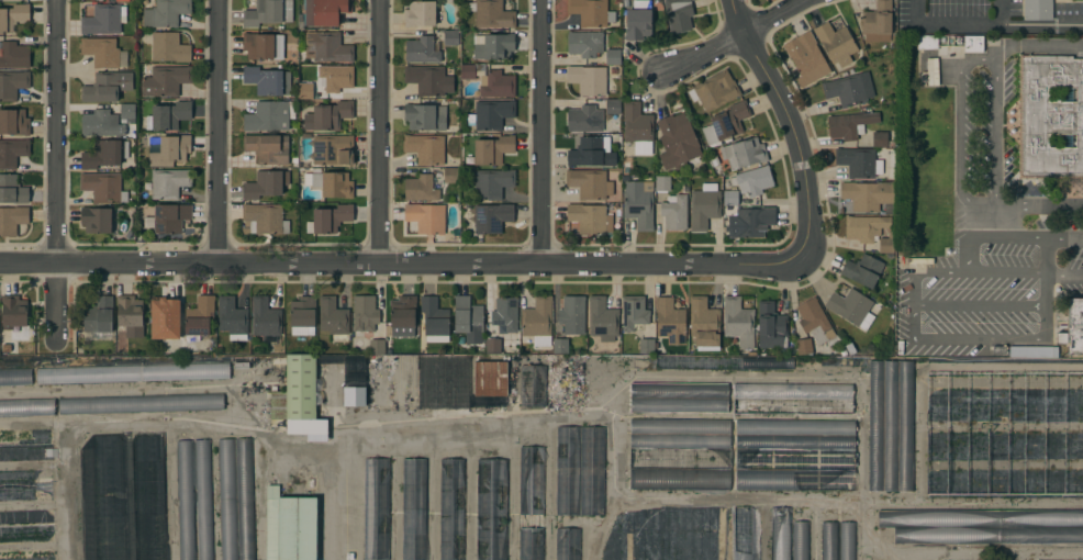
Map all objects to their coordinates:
building: (1037, 9)
building: (325, 11)
building: (166, 12)
building: (268, 12)
building: (591, 12)
building: (420, 13)
building: (491, 13)
road: (1000, 13)
building: (678, 14)
building: (13, 15)
road: (735, 15)
building: (104, 19)
building: (638, 19)
building: (878, 22)
road: (945, 25)
road: (1041, 27)
road: (732, 35)
building: (450, 36)
building: (927, 41)
building: (584, 43)
building: (836, 43)
building: (972, 43)
building: (263, 45)
road: (1039, 45)
building: (327, 46)
building: (495, 46)
building: (169, 47)
building: (423, 49)
building: (103, 52)
building: (14, 54)
building: (613, 56)
building: (808, 59)
building: (467, 70)
building: (927, 71)
building: (336, 77)
building: (267, 79)
building: (428, 79)
building: (588, 79)
building: (165, 80)
building: (12, 83)
building: (496, 83)
building: (107, 86)
building: (849, 88)
building: (305, 90)
building: (714, 90)
building: (613, 105)
building: (127, 112)
building: (491, 114)
building: (168, 115)
building: (269, 115)
building: (328, 115)
building: (1049, 115)
building: (425, 116)
building: (584, 119)
building: (14, 122)
building: (726, 122)
building: (102, 123)
building: (850, 124)
building: (637, 127)
road: (959, 130)
road: (995, 130)
road: (220, 131)
road: (381, 132)
road: (543, 132)
road: (793, 136)
building: (879, 138)
building: (678, 142)
building: (267, 148)
building: (425, 148)
building: (168, 149)
building: (333, 149)
building: (492, 149)
building: (12, 152)
building: (592, 152)
building: (744, 152)
building: (104, 153)
building: (859, 161)
road: (58, 172)
building: (450, 175)
building: (753, 180)
building: (169, 182)
building: (492, 182)
building: (662, 182)
building: (266, 183)
building: (331, 183)
building: (589, 183)
building: (103, 187)
building: (420, 188)
building: (12, 189)
building: (867, 193)
building: (730, 197)
building: (638, 204)
building: (704, 205)
road: (1038, 206)
building: (674, 211)
building: (169, 217)
building: (331, 217)
building: (426, 217)
building: (492, 217)
building: (590, 217)
building: (265, 219)
building: (12, 220)
building: (96, 220)
building: (751, 221)
building: (864, 226)
road: (1018, 239)
building: (886, 243)
road: (399, 264)
building: (862, 270)
road: (1006, 270)
road: (931, 273)
road: (1065, 275)
road: (1048, 290)
road: (981, 306)
building: (851, 307)
building: (403, 313)
building: (505, 313)
building: (634, 313)
building: (572, 314)
building: (14, 315)
building: (99, 315)
building: (130, 315)
building: (302, 315)
building: (333, 316)
building: (365, 316)
building: (165, 317)
building: (199, 317)
building: (232, 317)
building: (265, 317)
building: (468, 317)
building: (602, 318)
building: (435, 320)
building: (670, 320)
building: (737, 321)
building: (814, 321)
building: (537, 322)
building: (704, 323)
building: (770, 325)
building: (1073, 327)
road: (981, 337)
building: (461, 340)
building: (493, 345)
building: (560, 345)
building: (377, 346)
building: (646, 346)
building: (804, 346)
building: (1032, 351)
building: (355, 370)
building: (132, 372)
building: (15, 376)
building: (490, 378)
building: (533, 384)
building: (679, 390)
building: (793, 390)
building: (354, 395)
building: (299, 397)
building: (139, 403)
building: (679, 404)
building: (792, 405)
building: (27, 406)
building: (905, 424)
building: (680, 425)
building: (875, 425)
building: (891, 425)
building: (794, 426)
building: (680, 440)
building: (795, 440)
building: (679, 457)
building: (795, 458)
building: (580, 470)
building: (679, 478)
building: (795, 479)
building: (245, 497)
building: (227, 499)
building: (186, 500)
building: (203, 500)
building: (531, 503)
road: (332, 504)
building: (376, 508)
building: (413, 508)
building: (451, 508)
building: (491, 509)
building: (980, 517)
building: (290, 526)
building: (743, 533)
building: (781, 533)
building: (987, 534)
building: (800, 540)
building: (829, 540)
building: (847, 540)
building: (567, 544)
building: (1063, 559)

